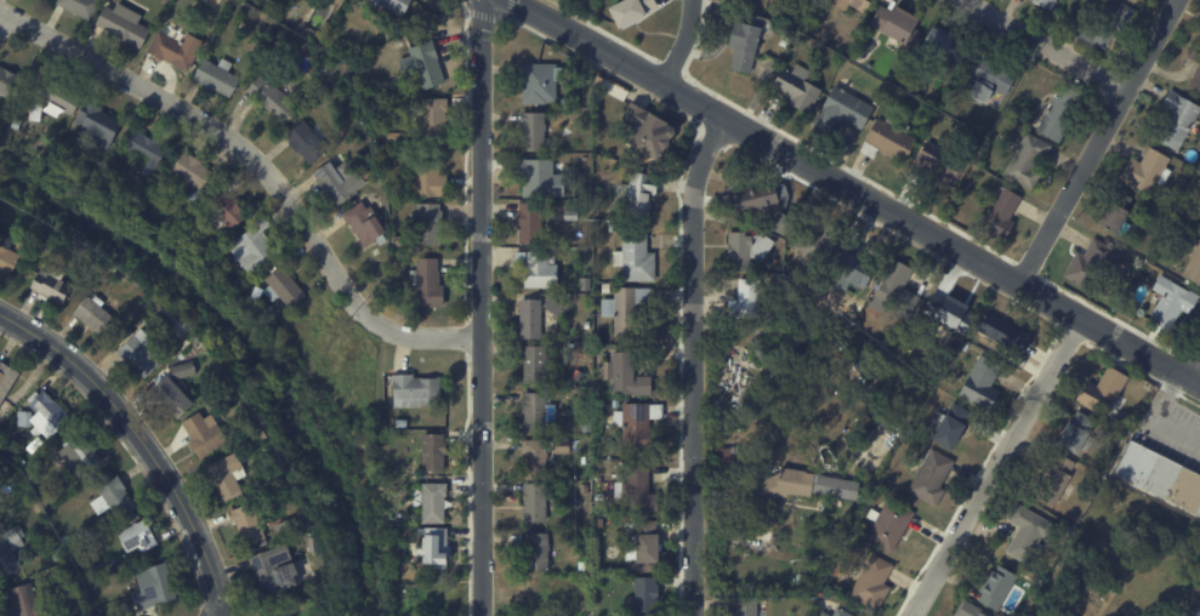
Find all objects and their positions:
building: (800, 0)
building: (1137, 0)
building: (1128, 1)
building: (857, 4)
building: (1042, 4)
building: (397, 6)
building: (83, 7)
building: (633, 11)
building: (244, 19)
building: (125, 24)
building: (1099, 24)
building: (893, 27)
building: (1199, 28)
building: (1199, 36)
building: (783, 38)
building: (743, 40)
road: (684, 42)
road: (1047, 42)
building: (938, 46)
building: (175, 52)
building: (332, 65)
building: (426, 67)
building: (1195, 78)
building: (217, 79)
building: (985, 80)
building: (544, 81)
building: (6, 82)
building: (795, 89)
building: (275, 99)
building: (582, 101)
building: (568, 102)
building: (57, 103)
building: (875, 103)
building: (838, 112)
building: (1057, 114)
building: (438, 119)
building: (1175, 121)
building: (18, 125)
building: (99, 126)
building: (535, 130)
building: (654, 130)
building: (886, 141)
road: (1097, 141)
building: (308, 144)
building: (149, 153)
building: (1024, 161)
road: (260, 166)
building: (63, 167)
building: (939, 171)
building: (195, 172)
building: (1144, 172)
building: (369, 175)
building: (602, 175)
building: (535, 177)
building: (979, 177)
building: (433, 181)
building: (341, 182)
building: (379, 187)
building: (642, 192)
road: (857, 192)
building: (755, 199)
building: (190, 200)
building: (231, 210)
building: (574, 215)
power tower: (588, 215)
building: (999, 215)
building: (1111, 216)
building: (790, 218)
building: (533, 223)
building: (368, 226)
building: (430, 226)
building: (616, 227)
building: (399, 243)
building: (820, 243)
building: (25, 244)
building: (45, 244)
building: (750, 249)
building: (256, 250)
building: (8, 256)
building: (638, 257)
building: (1137, 263)
building: (1091, 266)
building: (540, 268)
building: (1192, 268)
building: (857, 272)
building: (55, 284)
building: (430, 285)
building: (608, 287)
building: (285, 289)
building: (898, 291)
building: (143, 293)
building: (751, 300)
building: (1167, 304)
road: (480, 307)
building: (553, 307)
building: (630, 309)
building: (954, 310)
building: (99, 315)
building: (533, 318)
building: (171, 319)
building: (590, 325)
building: (194, 336)
building: (1007, 338)
building: (143, 353)
road: (690, 361)
building: (536, 363)
building: (629, 375)
building: (7, 381)
road: (1199, 382)
building: (984, 383)
building: (178, 389)
building: (419, 390)
building: (1109, 394)
building: (604, 403)
building: (619, 404)
building: (538, 411)
building: (245, 412)
building: (49, 413)
road: (1159, 416)
building: (25, 418)
building: (404, 423)
building: (641, 424)
building: (950, 426)
building: (207, 433)
building: (1080, 433)
building: (261, 439)
building: (908, 439)
road: (142, 440)
building: (563, 445)
building: (436, 452)
building: (81, 455)
building: (727, 455)
building: (538, 458)
building: (23, 463)
road: (995, 467)
building: (229, 477)
building: (934, 477)
building: (1161, 477)
building: (33, 478)
building: (1058, 480)
building: (801, 487)
building: (586, 489)
building: (643, 491)
building: (601, 494)
building: (115, 498)
power tower: (591, 500)
building: (538, 502)
building: (436, 503)
building: (38, 507)
building: (893, 525)
building: (252, 526)
building: (398, 534)
building: (1031, 534)
building: (138, 538)
building: (648, 542)
building: (317, 544)
building: (438, 547)
building: (11, 551)
building: (540, 551)
building: (58, 554)
building: (398, 566)
building: (585, 566)
building: (1051, 567)
building: (278, 570)
building: (876, 583)
building: (157, 587)
building: (1001, 587)
building: (652, 594)
building: (33, 603)
building: (750, 608)
building: (973, 610)
building: (844, 612)
building: (828, 614)
building: (1199, 615)

